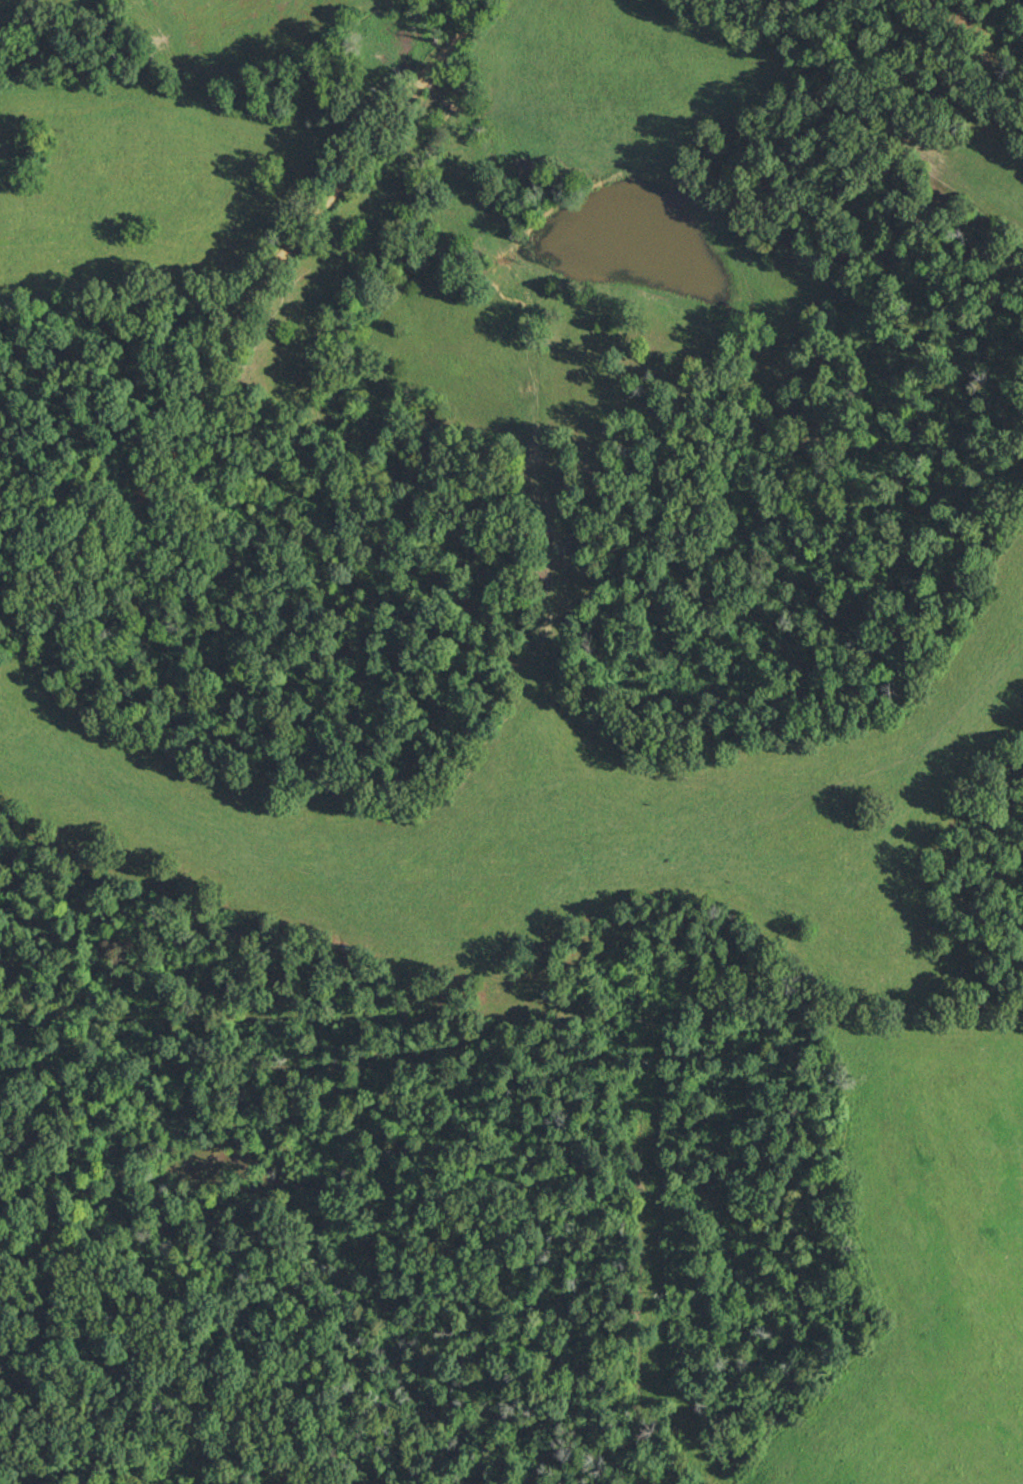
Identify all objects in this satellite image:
road: (241, 313)

